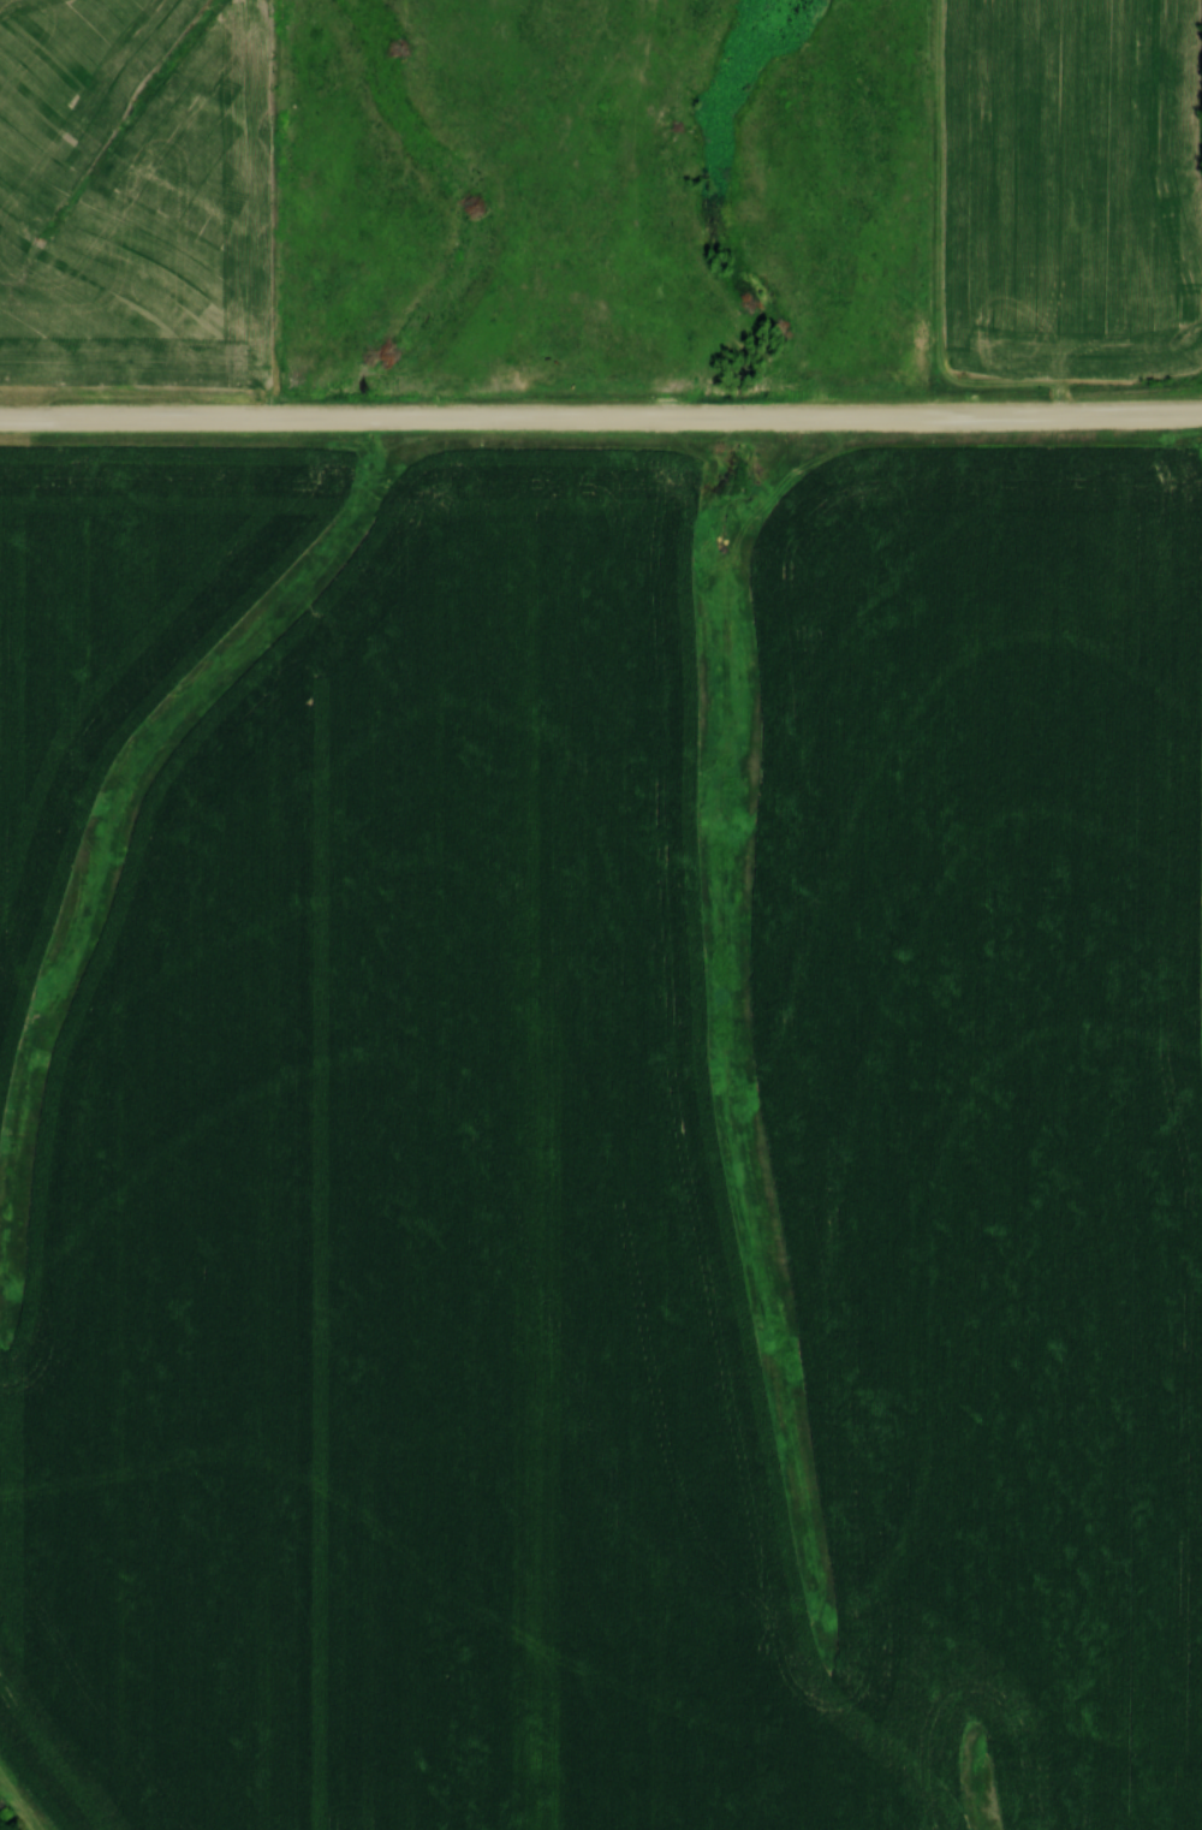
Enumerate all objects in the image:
crop: (1077, 182)
road: (601, 418)

